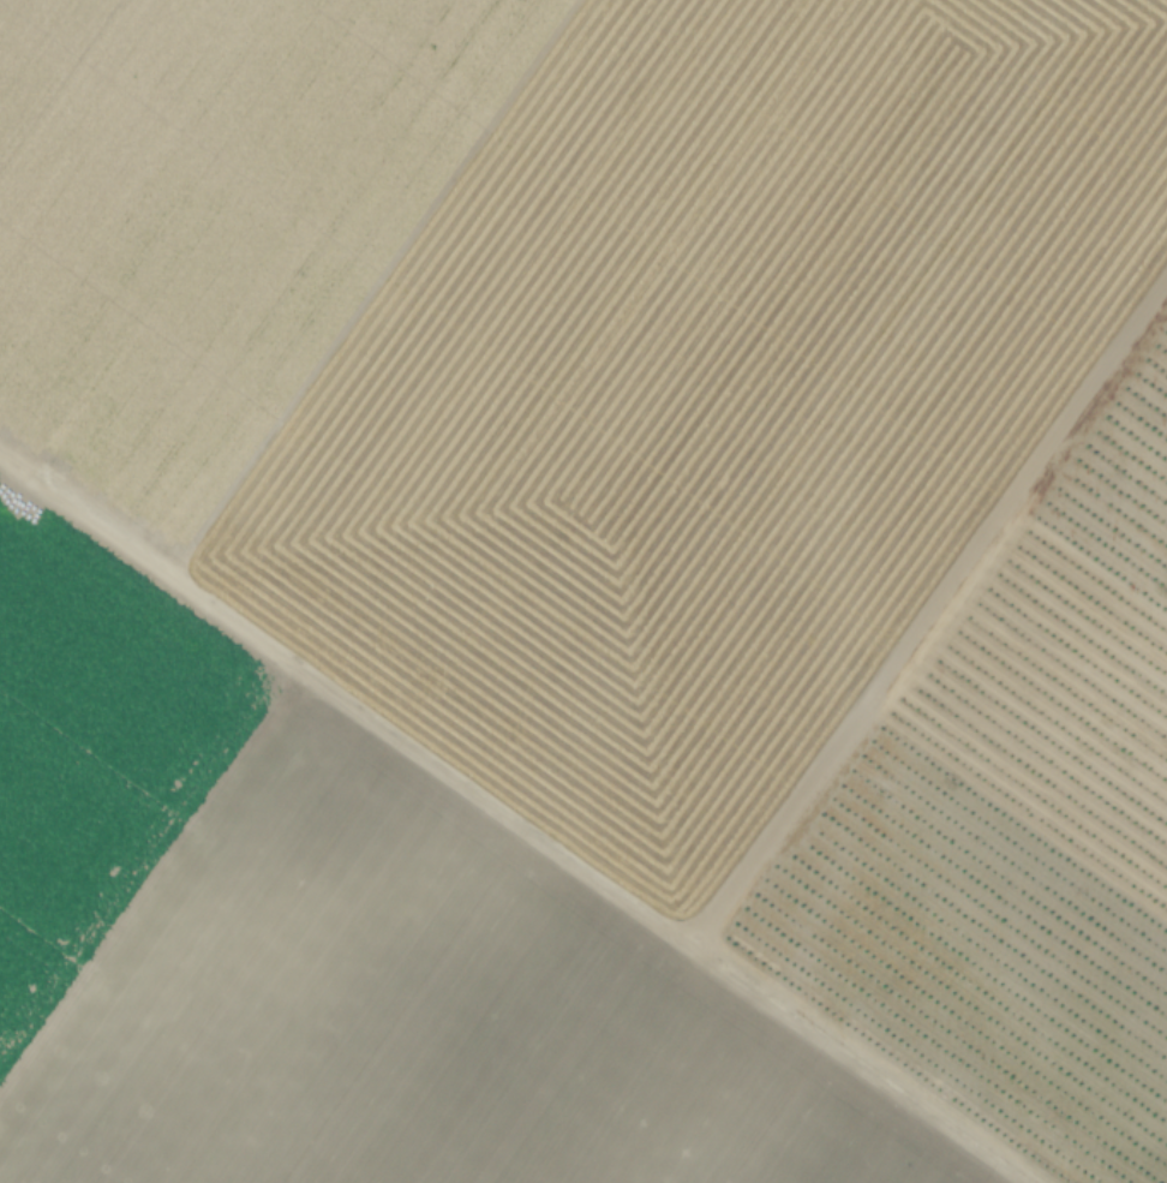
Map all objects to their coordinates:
crop: (583, 591)

